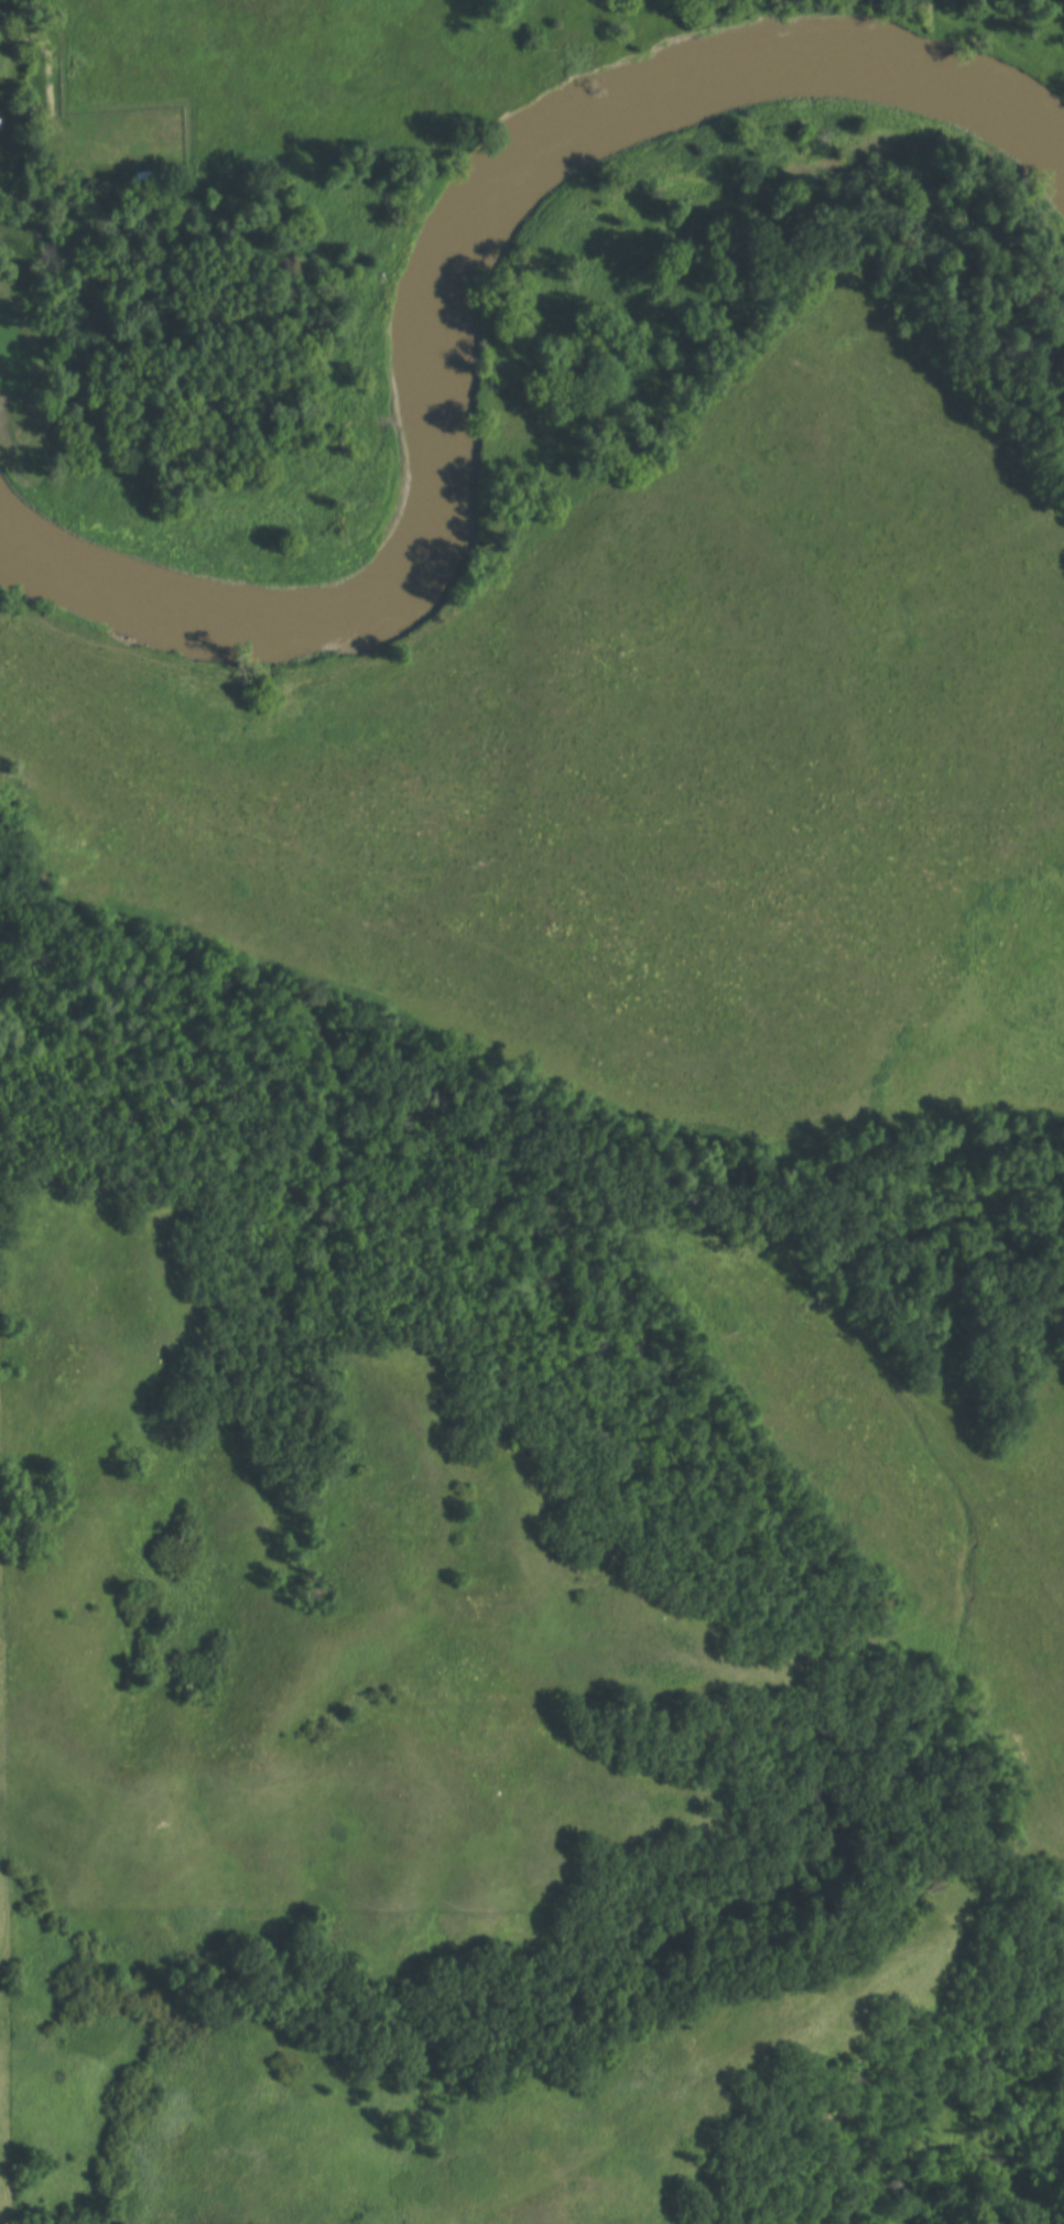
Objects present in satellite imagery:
river: (445, 258)

